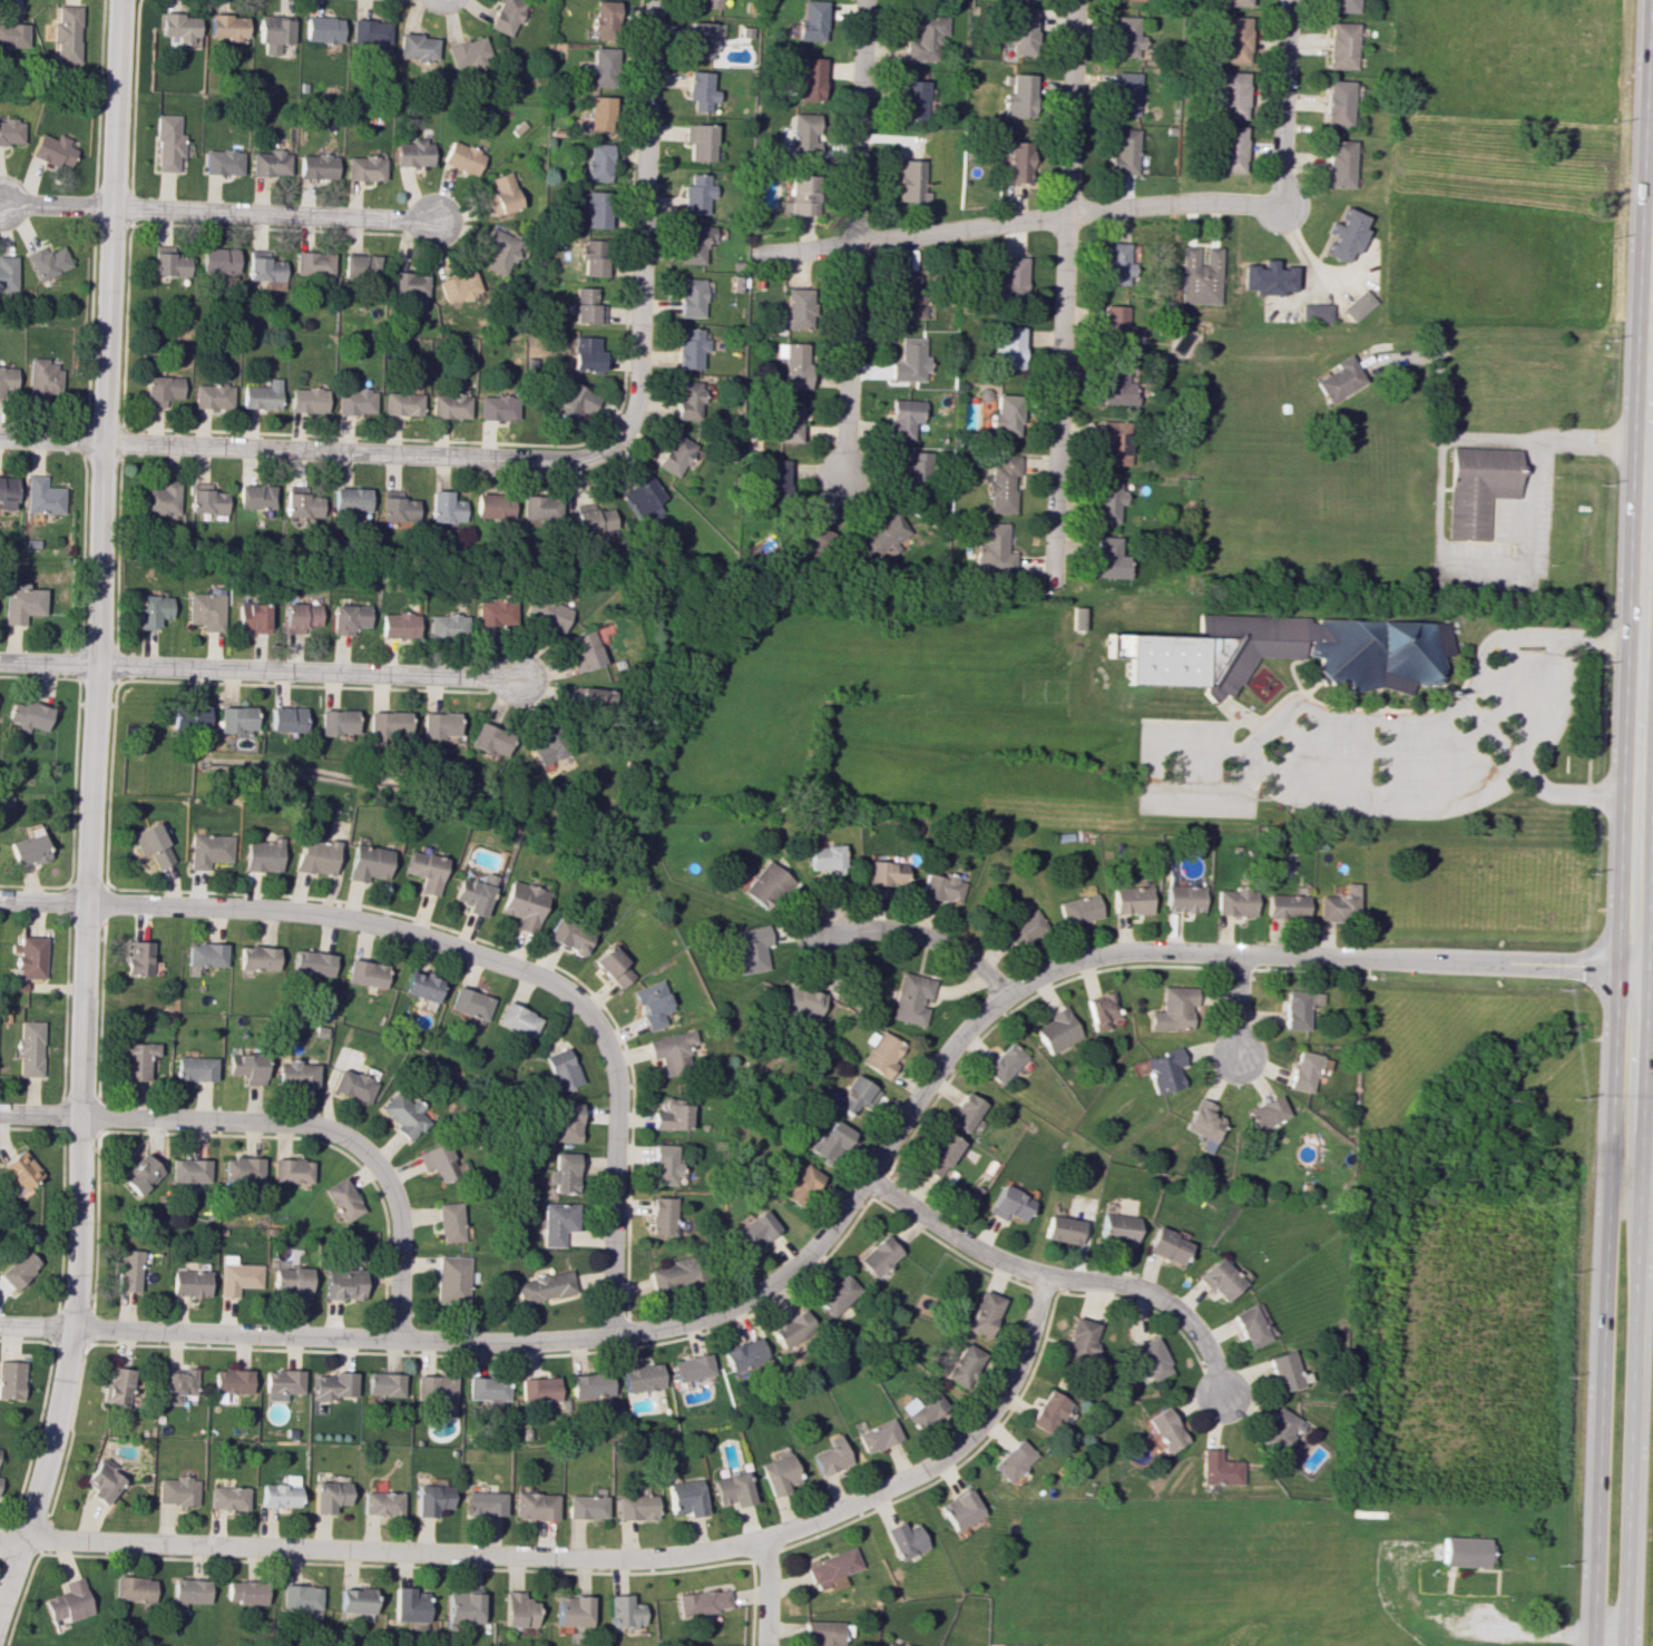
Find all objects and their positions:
building: (1138, 0)
building: (1234, 2)
building: (708, 3)
building: (1342, 6)
building: (505, 16)
building: (604, 19)
building: (810, 20)
building: (226, 27)
building: (179, 28)
building: (322, 29)
building: (1020, 31)
building: (273, 32)
building: (369, 32)
building: (12, 35)
building: (922, 35)
building: (66, 36)
building: (1126, 37)
building: (1233, 39)
building: (698, 40)
building: (1340, 45)
building: (415, 47)
building: (467, 52)
building: (600, 67)
building: (808, 79)
building: (700, 90)
building: (1125, 92)
building: (1018, 95)
building: (1232, 95)
building: (911, 99)
building: (1337, 102)
road: (1283, 107)
building: (599, 115)
building: (10, 131)
building: (803, 134)
building: (700, 140)
building: (167, 143)
building: (1230, 148)
building: (51, 149)
building: (1123, 150)
building: (412, 153)
building: (461, 157)
building: (222, 161)
building: (597, 161)
building: (1016, 161)
building: (268, 163)
building: (1338, 164)
building: (315, 166)
building: (363, 168)
building: (910, 180)
building: (695, 194)
building: (501, 195)
building: (800, 196)
building: (595, 208)
road: (219, 213)
road: (1063, 215)
road: (642, 224)
building: (1344, 235)
road: (852, 238)
building: (693, 243)
building: (499, 251)
building: (591, 257)
building: (217, 259)
building: (48, 261)
building: (167, 262)
building: (312, 263)
building: (1117, 263)
building: (360, 266)
building: (265, 271)
building: (7, 273)
building: (1199, 275)
building: (1010, 277)
building: (1268, 277)
building: (407, 284)
building: (457, 286)
road: (1063, 292)
building: (906, 296)
building: (689, 297)
building: (1357, 305)
building: (586, 306)
building: (796, 307)
building: (1315, 312)
building: (1115, 325)
building: (688, 347)
building: (1007, 347)
building: (585, 353)
building: (908, 360)
building: (792, 364)
building: (1336, 379)
building: (41, 380)
building: (7, 381)
building: (1115, 385)
building: (160, 389)
building: (212, 395)
building: (261, 395)
building: (306, 400)
building: (686, 400)
building: (573, 401)
building: (354, 402)
building: (401, 403)
building: (449, 404)
building: (496, 406)
building: (1005, 414)
building: (902, 418)
building: (786, 422)
road: (1478, 438)
building: (1114, 442)
road: (307, 451)
building: (673, 454)
building: (913, 470)
building: (776, 478)
building: (1001, 484)
building: (1477, 489)
building: (7, 492)
building: (40, 496)
building: (255, 496)
building: (160, 498)
building: (640, 499)
building: (350, 500)
building: (1106, 500)
building: (206, 501)
road: (1438, 502)
building: (302, 504)
building: (492, 506)
building: (444, 507)
building: (539, 508)
building: (397, 509)
building: (593, 520)
building: (882, 536)
parking lot: (1503, 547)
building: (991, 548)
road: (1527, 551)
building: (1108, 558)
building: (20, 602)
building: (150, 610)
building: (205, 610)
building: (495, 613)
building: (547, 613)
building: (300, 616)
building: (252, 617)
building: (1077, 617)
building: (348, 618)
building: (398, 625)
building: (446, 626)
building: (1213, 650)
building: (584, 651)
building: (1379, 654)
road: (258, 672)
road: (1504, 682)
parking lot: (1529, 694)
building: (593, 697)
road: (1546, 702)
road: (1643, 706)
road: (1441, 714)
building: (28, 715)
building: (186, 717)
building: (233, 718)
building: (285, 718)
building: (335, 722)
building: (438, 724)
building: (388, 725)
building: (489, 739)
road: (1377, 745)
building: (548, 748)
parking lot: (1379, 770)
road: (1151, 774)
parking lot: (1186, 774)
road: (1532, 782)
road: (1381, 794)
road: (88, 804)
building: (151, 844)
building: (28, 849)
building: (207, 850)
building: (262, 854)
building: (314, 856)
building: (825, 859)
building: (368, 862)
building: (426, 870)
building: (883, 876)
building: (765, 884)
building: (941, 888)
building: (475, 893)
building: (1182, 898)
building: (1129, 900)
building: (1233, 901)
building: (1337, 903)
building: (522, 904)
building: (1283, 905)
building: (1077, 909)
building: (1023, 927)
building: (568, 935)
road: (921, 935)
building: (750, 948)
road: (463, 950)
building: (206, 954)
building: (139, 958)
building: (258, 958)
building: (28, 961)
building: (312, 962)
building: (613, 967)
building: (365, 972)
building: (422, 987)
building: (910, 998)
building: (471, 1002)
building: (801, 1002)
building: (653, 1003)
road: (1235, 1006)
building: (1173, 1008)
building: (1297, 1008)
building: (1099, 1010)
building: (519, 1019)
building: (1055, 1030)
building: (30, 1048)
building: (673, 1051)
building: (879, 1052)
building: (137, 1060)
building: (1001, 1062)
building: (247, 1067)
building: (195, 1068)
building: (561, 1069)
building: (1162, 1070)
building: (1301, 1070)
building: (296, 1074)
building: (353, 1085)
building: (854, 1095)
building: (964, 1111)
building: (1263, 1113)
building: (672, 1115)
building: (1202, 1120)
building: (567, 1121)
road: (285, 1123)
building: (831, 1140)
building: (938, 1154)
building: (439, 1162)
building: (664, 1164)
building: (19, 1169)
building: (243, 1169)
building: (292, 1169)
building: (188, 1172)
building: (564, 1172)
building: (140, 1175)
building: (800, 1185)
building: (343, 1199)
road: (849, 1201)
building: (1008, 1204)
building: (663, 1215)
building: (449, 1222)
building: (558, 1222)
building: (756, 1227)
building: (1063, 1228)
building: (1117, 1228)
building: (1167, 1245)
building: (879, 1255)
building: (16, 1268)
building: (125, 1270)
building: (672, 1274)
building: (236, 1275)
road: (1058, 1278)
building: (1220, 1278)
building: (452, 1280)
building: (291, 1282)
building: (187, 1283)
building: (343, 1283)
building: (545, 1286)
building: (835, 1293)
road: (1601, 1304)
road: (1634, 1305)
building: (984, 1313)
building: (1249, 1325)
building: (793, 1327)
building: (1082, 1339)
building: (744, 1355)
building: (1151, 1359)
building: (962, 1364)
building: (692, 1366)
building: (1285, 1371)
building: (640, 1378)
building: (10, 1379)
building: (282, 1381)
building: (228, 1382)
building: (178, 1384)
building: (383, 1384)
building: (590, 1384)
building: (116, 1385)
building: (332, 1385)
building: (433, 1387)
building: (487, 1388)
building: (538, 1389)
building: (922, 1409)
building: (1048, 1411)
building: (1165, 1429)
building: (1279, 1431)
building: (876, 1436)
building: (829, 1456)
building: (1011, 1460)
building: (1219, 1468)
building: (776, 1473)
building: (0, 1479)
building: (102, 1481)
building: (731, 1489)
building: (176, 1490)
building: (280, 1492)
building: (327, 1496)
building: (226, 1497)
building: (684, 1498)
building: (430, 1499)
building: (380, 1502)
building: (482, 1503)
building: (534, 1506)
building: (584, 1507)
building: (634, 1507)
building: (959, 1509)
building: (902, 1539)
building: (1464, 1552)
road: (587, 1559)
building: (829, 1567)
building: (133, 1588)
building: (188, 1591)
building: (244, 1591)
road: (765, 1593)
building: (299, 1597)
building: (69, 1600)
building: (700, 1601)
building: (353, 1603)
building: (407, 1605)
parking lot: (1430, 1605)
building: (461, 1606)
building: (517, 1609)
building: (570, 1610)
building: (622, 1611)
road: (1522, 1630)
building: (821, 1632)
building: (889, 1644)

